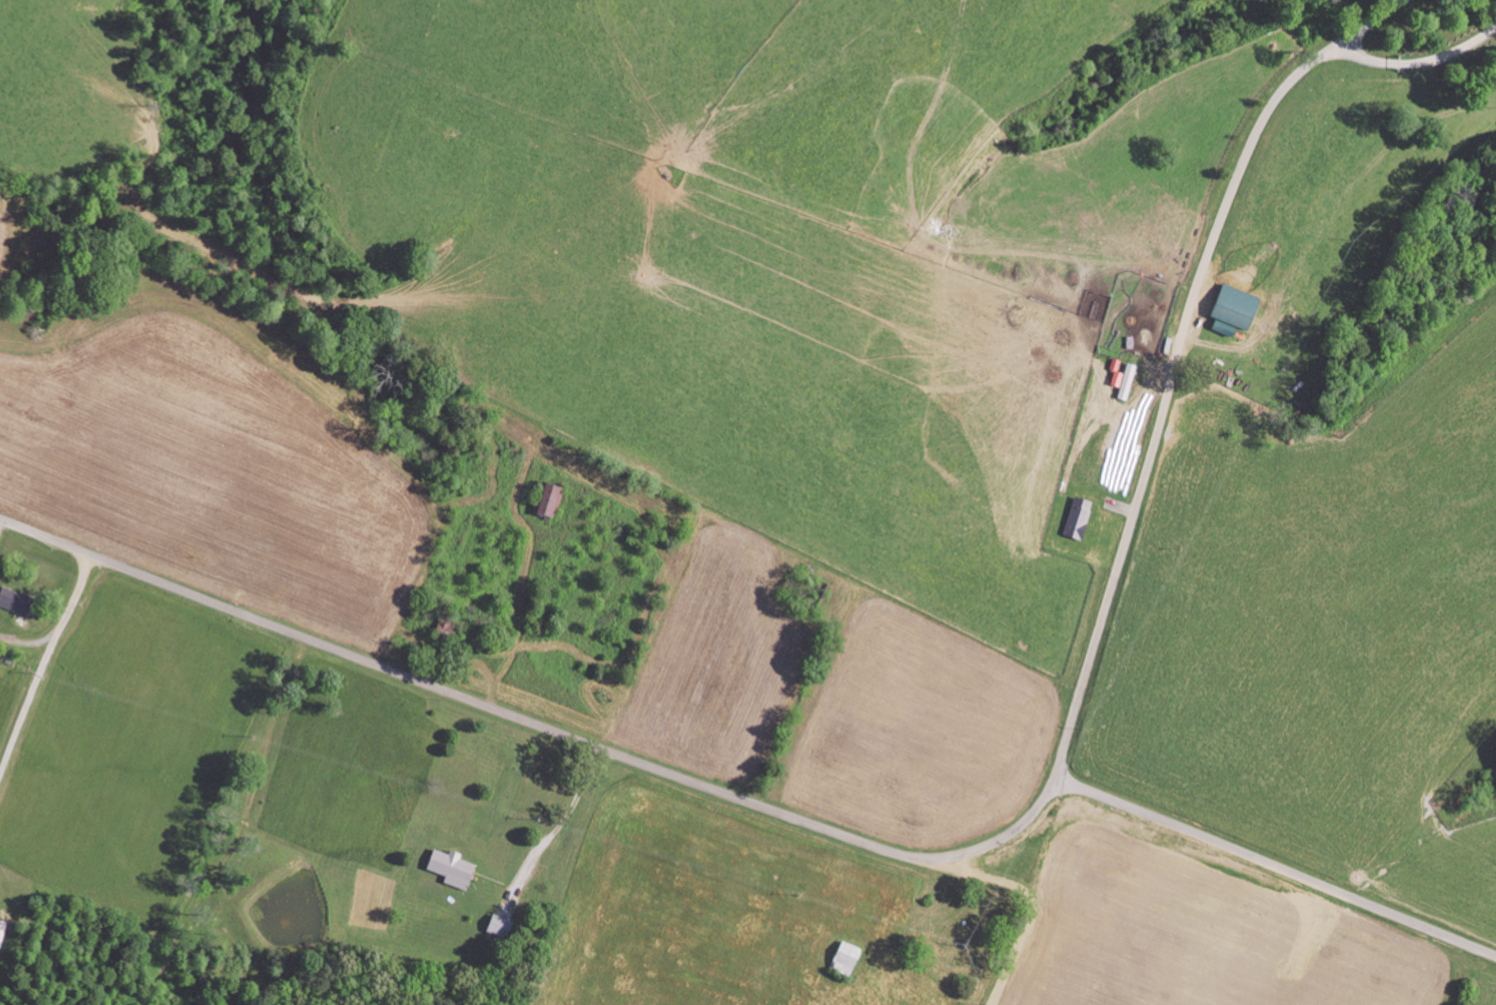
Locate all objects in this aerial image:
building: (1238, 308)
building: (1226, 330)
building: (1128, 382)
building: (1115, 442)
building: (551, 502)
building: (1080, 519)
building: (18, 601)
road: (952, 856)
building: (456, 867)
road: (1275, 867)
building: (3, 929)

